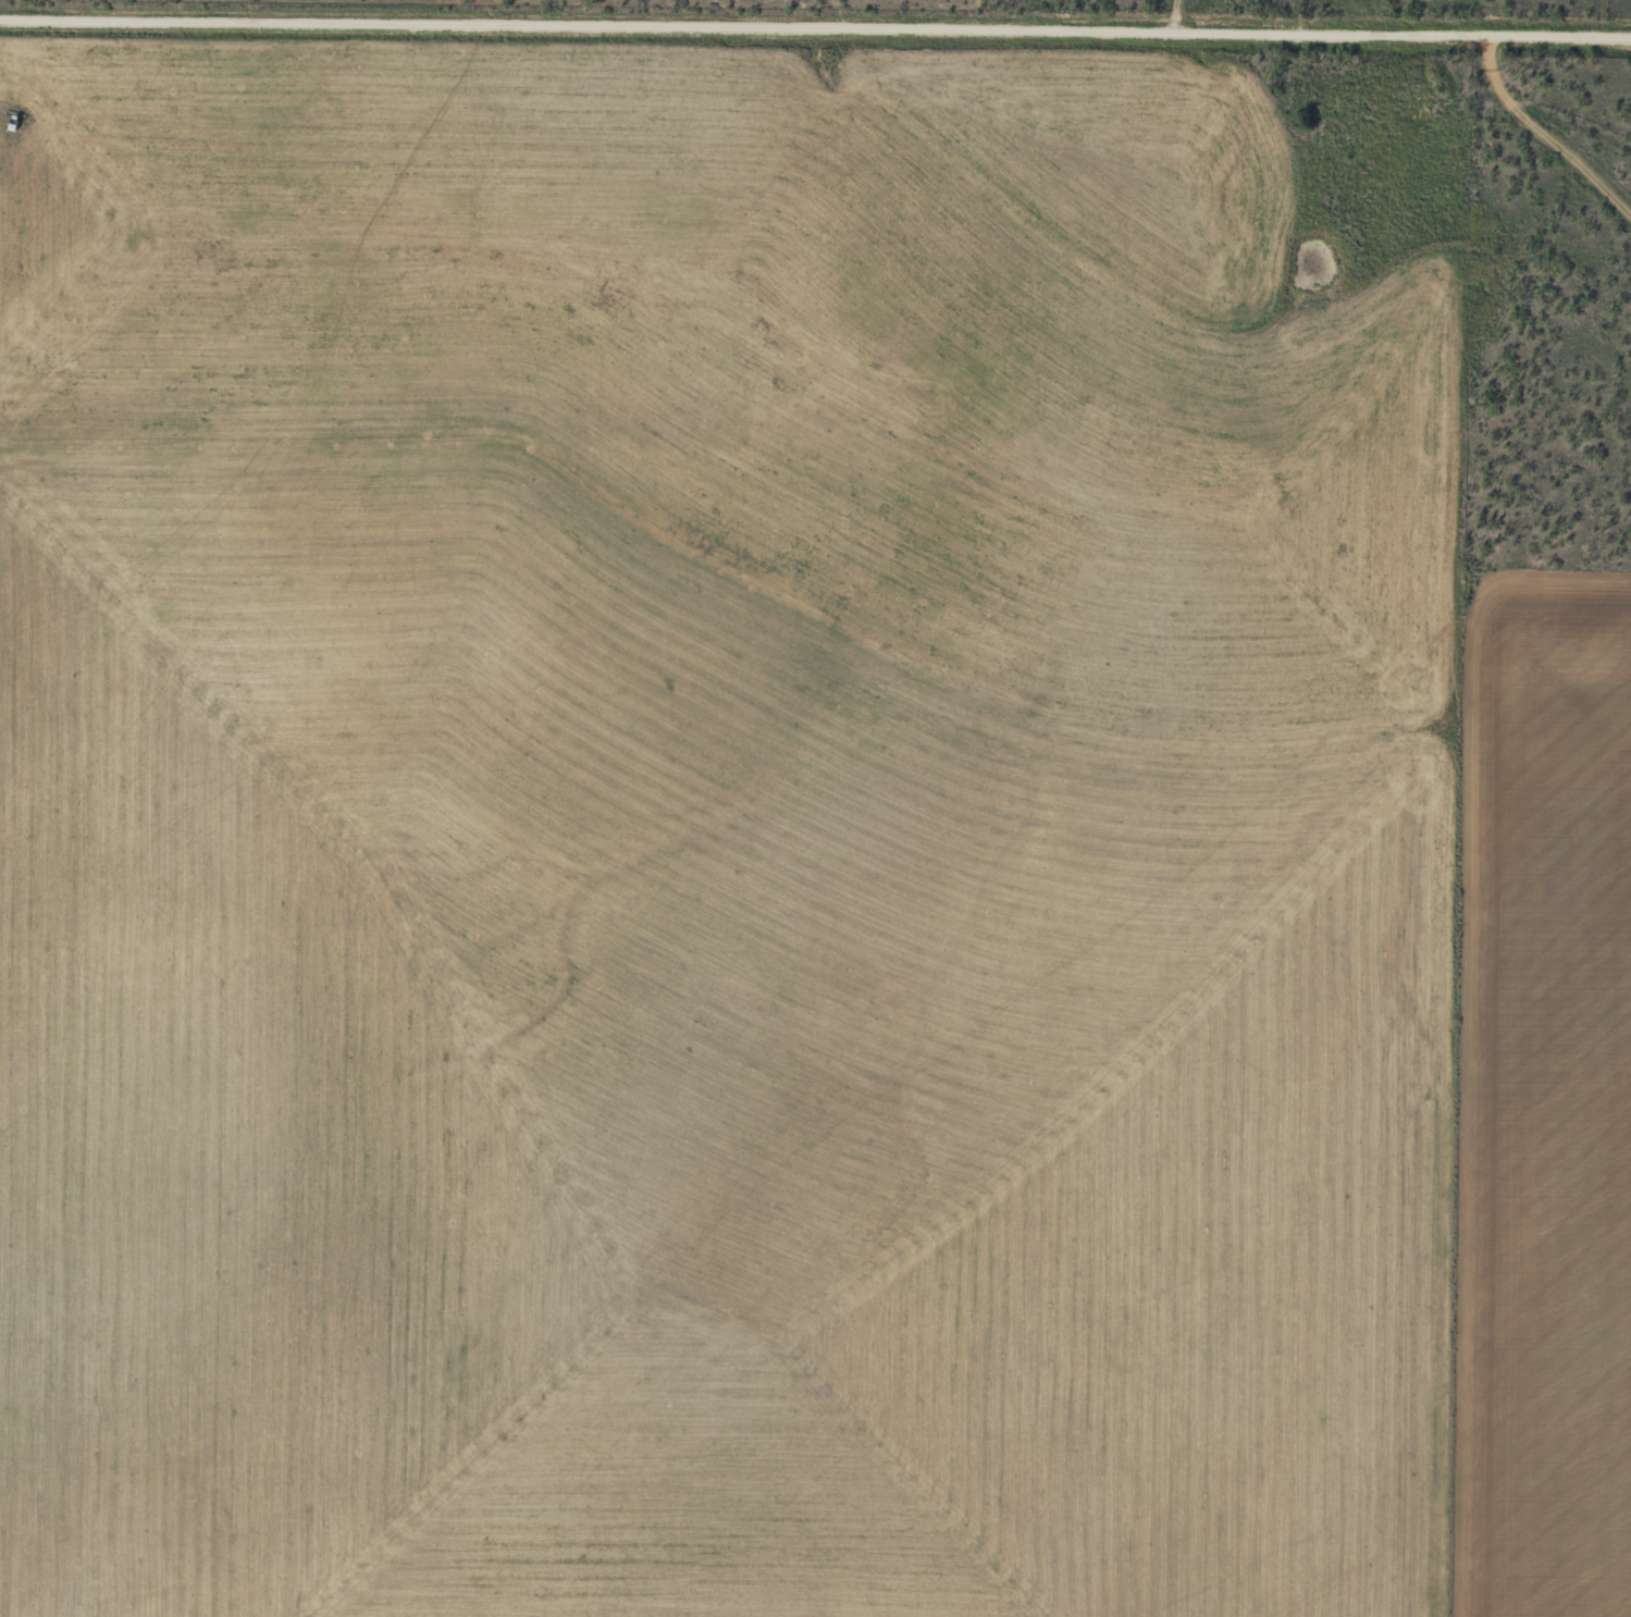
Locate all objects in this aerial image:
road: (1187, 13)
road: (815, 23)
road: (1528, 163)

